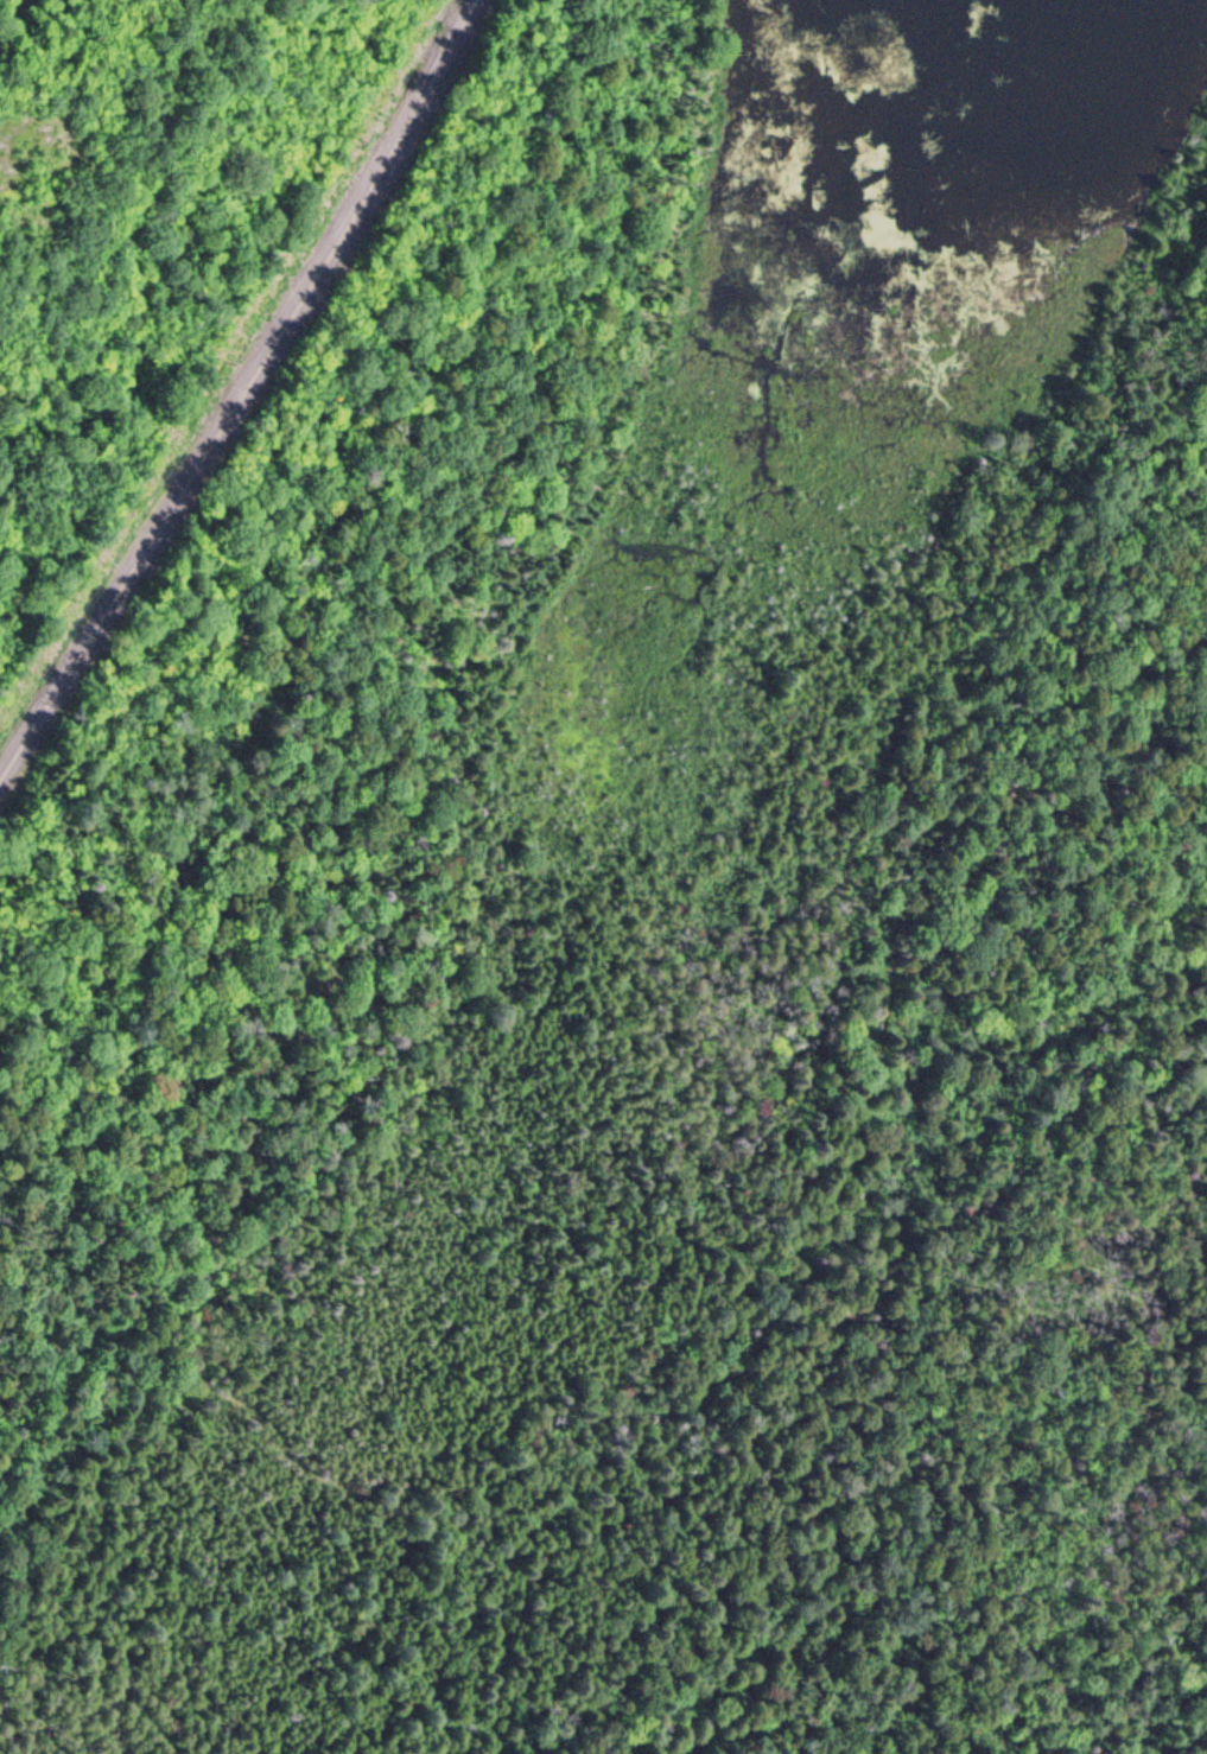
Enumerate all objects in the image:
road: (248, 396)

